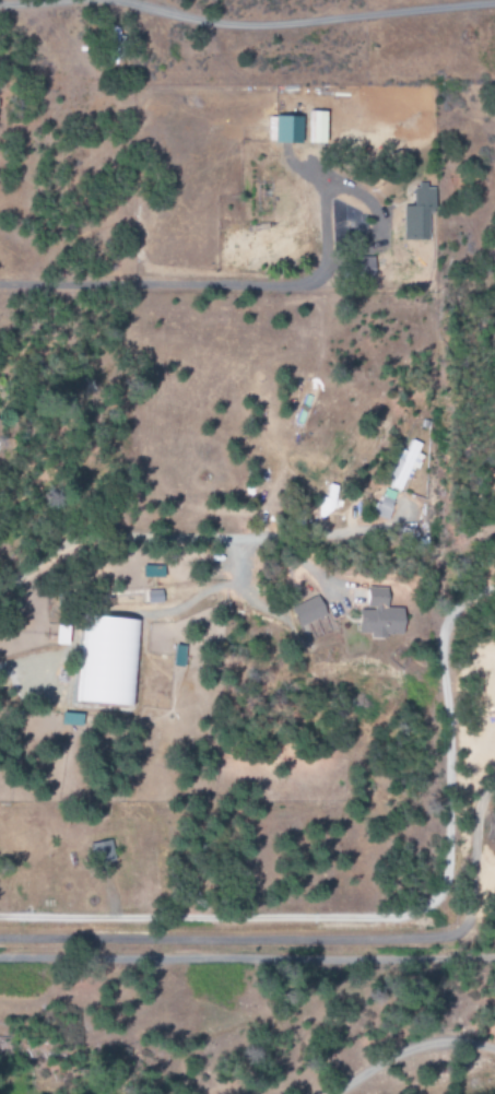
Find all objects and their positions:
building: (114, 46)
building: (284, 130)
building: (417, 214)
building: (365, 269)
building: (405, 467)
building: (328, 501)
building: (386, 505)
building: (307, 611)
building: (378, 615)
building: (178, 656)
building: (107, 660)
building: (102, 851)
road: (387, 917)
road: (310, 939)
road: (247, 957)

